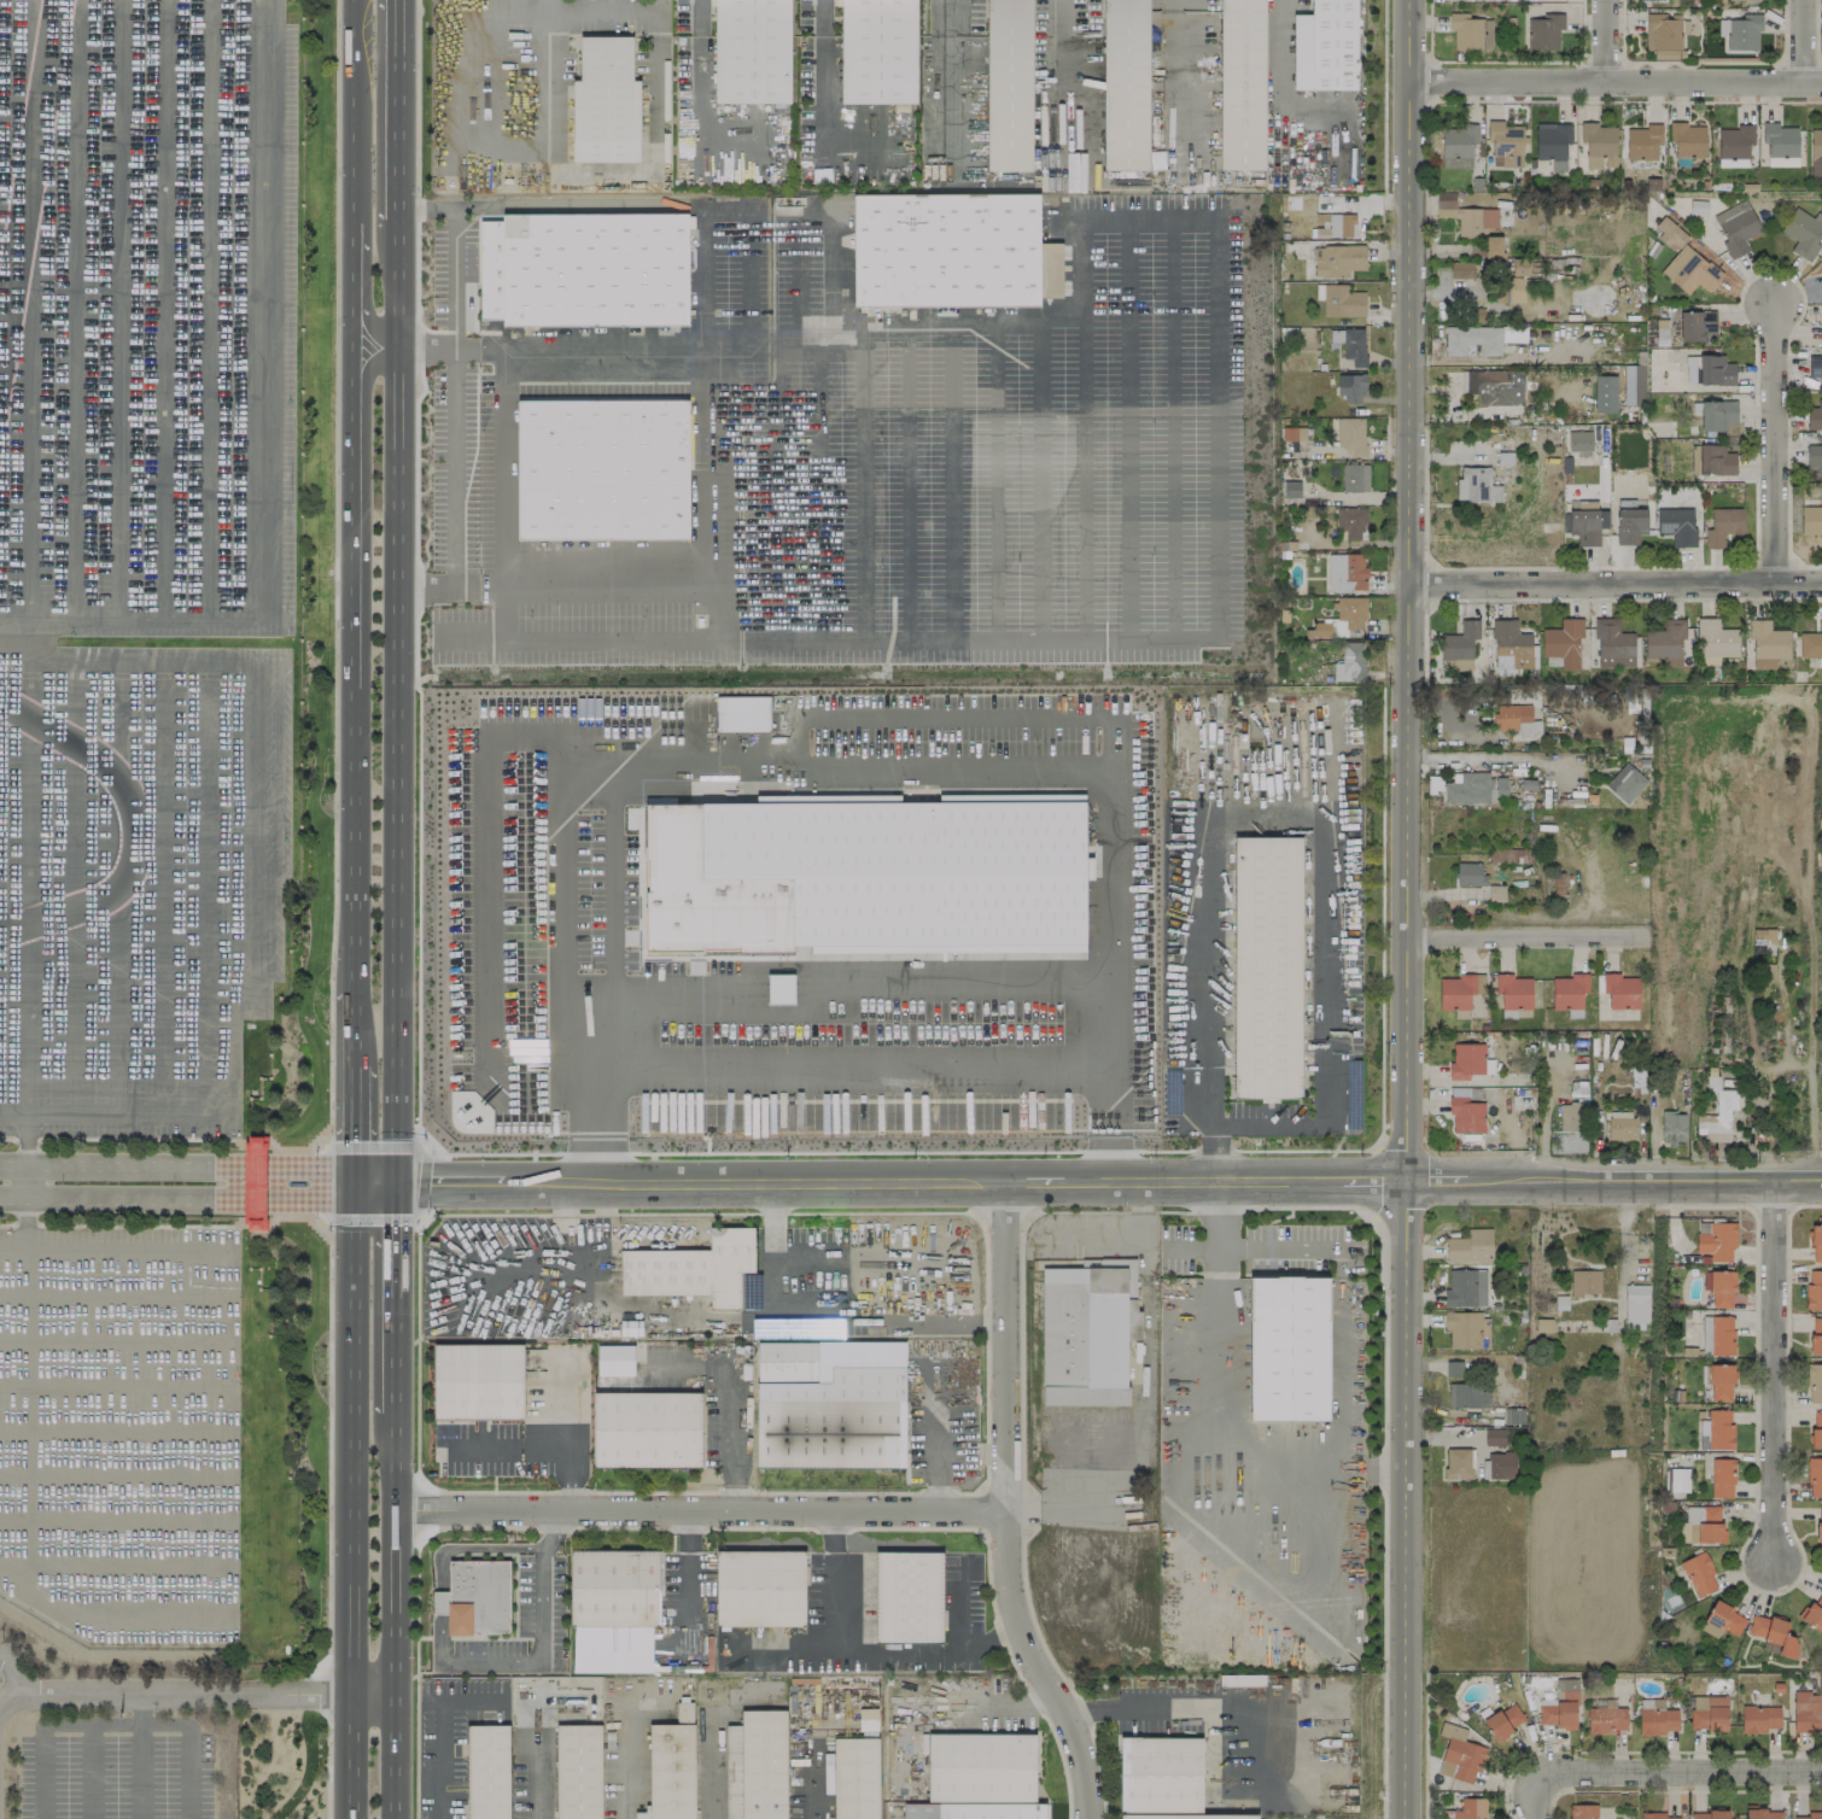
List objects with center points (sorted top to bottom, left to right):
building: (1651, 0)
building: (1740, 0)
road: (701, 6)
road: (603, 7)
building: (1470, 31)
building: (1544, 31)
building: (1740, 31)
road: (480, 33)
building: (1665, 34)
road: (1605, 41)
road: (1805, 41)
building: (1322, 46)
building: (751, 51)
building: (877, 51)
road: (1285, 78)
road: (1173, 80)
road: (1616, 83)
road: (823, 84)
building: (1006, 84)
building: (1123, 84)
building: (1238, 84)
road: (938, 86)
building: (603, 101)
road: (399, 111)
road: (702, 116)
road: (352, 119)
building: (1687, 139)
building: (1642, 141)
building: (1552, 142)
building: (1780, 144)
building: (1456, 145)
building: (1599, 145)
building: (1734, 145)
building: (1816, 152)
raceway: (27, 166)
road: (641, 172)
road: (416, 176)
road: (824, 212)
building: (1471, 222)
building: (1736, 227)
building: (1803, 232)
building: (1670, 233)
building: (942, 251)
building: (1337, 259)
building: (1693, 267)
building: (1461, 269)
building: (582, 270)
building: (1049, 270)
road: (452, 275)
building: (1511, 280)
road: (354, 291)
road: (703, 299)
building: (1342, 300)
road: (1501, 308)
building: (1695, 324)
building: (1335, 334)
building: (1481, 338)
building: (1354, 345)
road: (1506, 359)
building: (1815, 367)
building: (1709, 369)
building: (1634, 384)
building: (1489, 386)
building: (1350, 387)
building: (1715, 414)
building: (1815, 415)
road: (1172, 425)
road: (1128, 426)
road: (1768, 434)
building: (1351, 435)
building: (1578, 440)
building: (1814, 456)
building: (1711, 460)
road: (712, 466)
building: (601, 469)
road: (1082, 476)
road: (995, 478)
road: (1036, 478)
building: (1354, 478)
road: (950, 479)
road: (906, 480)
road: (860, 481)
road: (818, 484)
building: (1476, 485)
road: (773, 487)
building: (1291, 489)
building: (1811, 520)
building: (1350, 522)
building: (1629, 525)
building: (1676, 525)
building: (1723, 525)
building: (1584, 526)
parking lot: (142, 555)
building: (1344, 572)
road: (1616, 579)
road: (425, 589)
building: (1350, 612)
road: (1203, 634)
road: (583, 641)
building: (1664, 641)
building: (1715, 641)
building: (1563, 642)
building: (1511, 643)
building: (1612, 644)
building: (1766, 644)
building: (1811, 644)
building: (1460, 645)
road: (334, 647)
building: (1502, 661)
building: (1349, 662)
road: (177, 666)
road: (354, 668)
road: (164, 691)
road: (397, 704)
road: (206, 713)
building: (742, 713)
road: (945, 718)
building: (1513, 718)
road: (419, 732)
road: (1489, 755)
road: (1017, 761)
building: (1625, 783)
building: (1474, 788)
road: (1289, 815)
raceway: (133, 823)
road: (251, 849)
building: (862, 873)
building: (1470, 873)
building: (1554, 883)
road: (617, 889)
road: (485, 909)
road: (1409, 909)
road: (1531, 937)
building: (1762, 937)
building: (1266, 967)
road: (842, 982)
building: (781, 988)
building: (1620, 990)
building: (1459, 992)
building: (1513, 993)
building: (1569, 993)
road: (354, 1042)
road: (160, 1058)
road: (70, 1060)
road: (113, 1060)
building: (1468, 1060)
building: (7, 1063)
road: (1791, 1066)
road: (13, 1111)
road: (175, 1111)
building: (1718, 1112)
road: (1099, 1115)
building: (1466, 1115)
road: (1754, 1117)
building: (1620, 1125)
building: (1674, 1127)
building: (1569, 1130)
road: (354, 1137)
road: (27, 1170)
road: (177, 1172)
road: (422, 1180)
road: (1612, 1181)
building: (253, 1182)
road: (320, 1183)
traffic signals: (355, 1185)
traffic signals: (395, 1185)
road: (880, 1186)
road: (285, 1191)
road: (107, 1195)
building: (1717, 1240)
building: (1816, 1242)
building: (1470, 1246)
road: (115, 1248)
road: (1192, 1248)
road: (1255, 1248)
building: (691, 1269)
building: (1584, 1281)
building: (1718, 1287)
building: (1462, 1288)
building: (1814, 1289)
road: (115, 1295)
road: (395, 1302)
building: (1635, 1306)
road: (681, 1316)
building: (1542, 1324)
building: (1467, 1329)
building: (1717, 1334)
building: (1082, 1335)
building: (1816, 1335)
road: (115, 1339)
building: (1287, 1349)
building: (614, 1359)
road: (1338, 1362)
building: (1453, 1368)
road: (1774, 1370)
building: (477, 1381)
building: (1719, 1382)
building: (1815, 1382)
road: (115, 1385)
building: (1467, 1394)
road: (328, 1400)
road: (726, 1400)
building: (824, 1410)
road: (115, 1429)
parking lot: (121, 1429)
building: (646, 1429)
building: (1716, 1429)
building: (1816, 1429)
road: (230, 1435)
road: (1226, 1435)
building: (1494, 1437)
road: (547, 1445)
building: (1459, 1463)
building: (1501, 1464)
road: (115, 1474)
building: (1815, 1476)
building: (1722, 1478)
building: (1678, 1479)
road: (355, 1502)
road: (1004, 1510)
road: (699, 1511)
road: (25, 1515)
building: (1818, 1523)
building: (1701, 1525)
road: (438, 1558)
road: (115, 1564)
road: (679, 1571)
building: (1698, 1573)
road: (827, 1581)
building: (614, 1587)
building: (759, 1589)
building: (477, 1595)
building: (907, 1596)
road: (957, 1612)
building: (1814, 1612)
road: (393, 1619)
building: (1722, 1620)
road: (537, 1624)
building: (438, 1626)
building: (1773, 1633)
road: (991, 1643)
road: (849, 1654)
road: (12, 1674)
road: (195, 1694)
road: (327, 1694)
road: (1018, 1697)
road: (964, 1702)
building: (1559, 1706)
road: (138, 1708)
road: (1185, 1708)
building: (1808, 1709)
building: (1707, 1712)
building: (1655, 1716)
building: (1758, 1718)
building: (1606, 1719)
building: (1503, 1720)
road: (112, 1723)
road: (438, 1732)
building: (1459, 1754)
road: (714, 1762)
building: (761, 1764)
road: (625, 1766)
road: (1681, 1770)
road: (39, 1771)
road: (89, 1771)
road: (138, 1771)
road: (186, 1771)
road: (326, 1771)
building: (670, 1771)
building: (486, 1772)
road: (542, 1772)
building: (578, 1772)
parking lot: (113, 1776)
building: (982, 1776)
building: (854, 1778)
building: (1162, 1779)
road: (1538, 1795)
building: (1467, 1809)
building: (1582, 1811)
building: (1762, 1813)
building: (1709, 1814)
building: (1655, 1815)
building: (1810, 1815)

